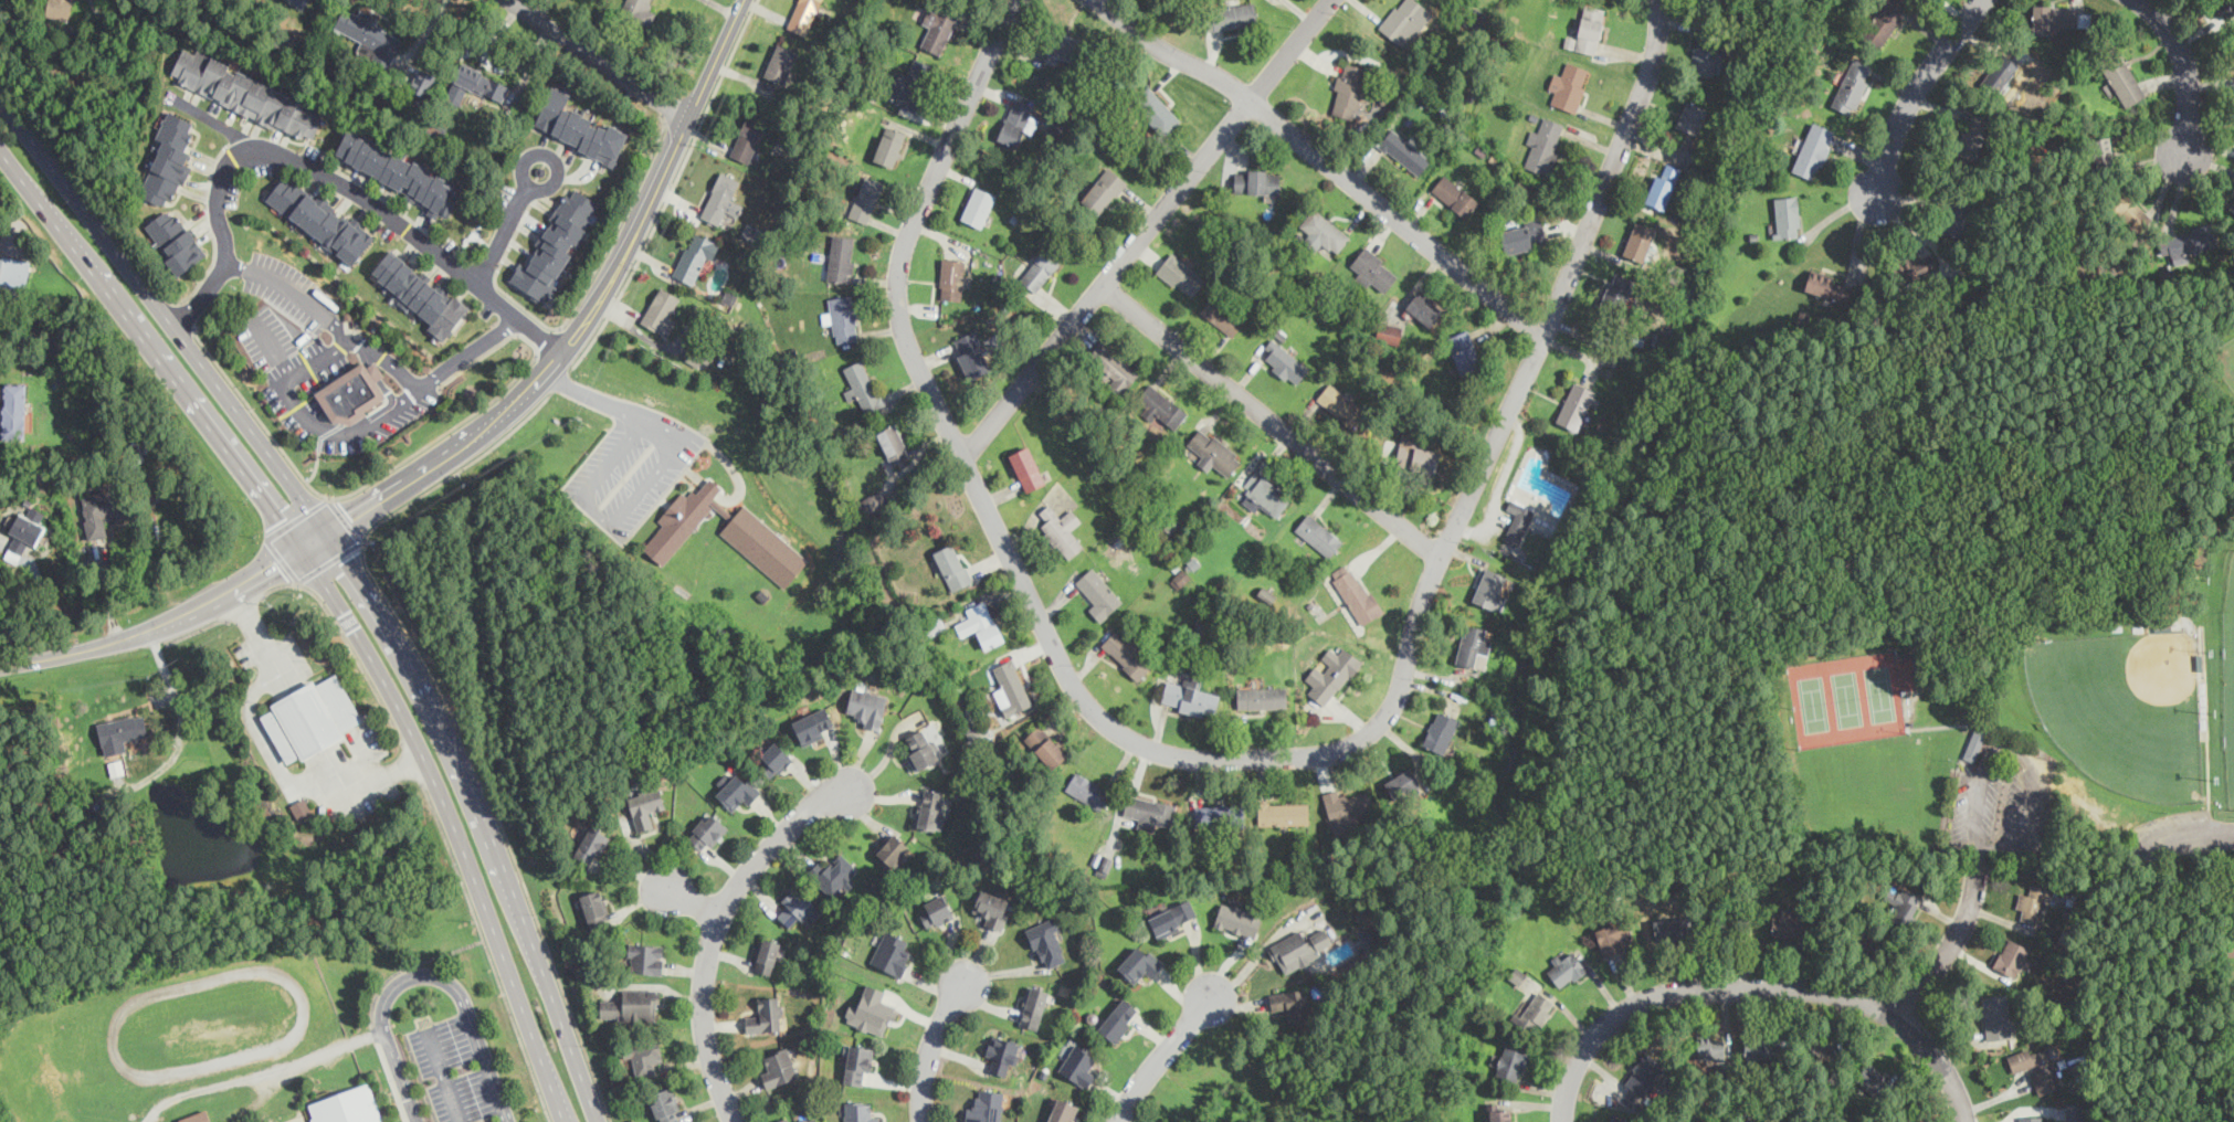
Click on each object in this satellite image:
building: (299, 2)
building: (2225, 7)
building: (60, 8)
building: (637, 12)
building: (803, 14)
building: (1230, 15)
building: (2055, 15)
building: (1476, 17)
building: (1402, 19)
building: (1883, 21)
building: (939, 25)
building: (1590, 29)
building: (368, 33)
building: (1061, 45)
road: (601, 57)
building: (1703, 59)
building: (781, 63)
road: (2184, 66)
building: (2002, 70)
building: (2120, 75)
building: (422, 81)
building: (913, 83)
building: (476, 84)
building: (1569, 85)
building: (1852, 85)
road: (1916, 89)
building: (1348, 91)
building: (247, 94)
building: (1156, 109)
building: (1692, 116)
building: (1018, 121)
building: (578, 127)
building: (1973, 136)
building: (749, 138)
building: (889, 145)
building: (1545, 145)
building: (1813, 149)
building: (1404, 151)
building: (2101, 151)
road: (1326, 160)
building: (168, 161)
building: (398, 171)
road: (327, 173)
building: (1256, 180)
building: (1663, 184)
road: (670, 190)
building: (1104, 190)
building: (1454, 194)
building: (866, 198)
building: (721, 199)
building: (978, 205)
building: (2127, 210)
park: (485, 213)
building: (1787, 215)
building: (1954, 216)
building: (319, 218)
road: (620, 221)
road: (913, 223)
road: (507, 226)
road: (1147, 229)
building: (1324, 232)
building: (0, 234)
building: (1524, 235)
building: (1640, 240)
building: (176, 242)
building: (2188, 243)
building: (555, 246)
building: (841, 257)
building: (694, 258)
road: (141, 262)
building: (1911, 265)
building: (1041, 268)
building: (1373, 269)
building: (13, 273)
building: (1180, 274)
road: (495, 277)
building: (952, 277)
building: (1829, 285)
building: (1617, 289)
building: (418, 292)
building: (1424, 307)
building: (661, 310)
road: (183, 314)
building: (1221, 315)
building: (842, 317)
road: (1966, 327)
building: (1389, 332)
road: (550, 340)
road: (273, 346)
road: (372, 350)
building: (703, 352)
building: (972, 352)
building: (1465, 352)
park: (2225, 358)
building: (1283, 361)
building: (1111, 366)
road: (560, 381)
building: (862, 384)
building: (352, 392)
road: (592, 395)
building: (1341, 404)
building: (1574, 405)
building: (1161, 406)
building: (13, 411)
road: (313, 419)
road: (1272, 421)
road: (468, 440)
building: (893, 443)
building: (1213, 451)
building: (1416, 454)
road: (316, 466)
building: (1029, 467)
road: (1592, 478)
road: (1831, 484)
road: (2124, 484)
road: (348, 493)
building: (1265, 493)
building: (874, 500)
building: (99, 509)
road: (615, 514)
road: (1722, 515)
road: (296, 517)
traffic signals: (282, 518)
traffic signals: (352, 518)
road: (346, 519)
building: (681, 520)
building: (1517, 521)
building: (1062, 530)
building: (24, 531)
building: (1318, 533)
road: (1804, 533)
building: (763, 546)
road: (282, 559)
traffic signals: (349, 559)
road: (330, 561)
traffic signals: (276, 565)
building: (952, 565)
road: (358, 575)
building: (1180, 578)
building: (1490, 589)
road: (108, 591)
building: (1356, 593)
building: (1098, 594)
road: (339, 602)
building: (981, 624)
road: (1412, 637)
park: (1926, 637)
road: (345, 639)
building: (1473, 644)
road: (1930, 648)
building: (1127, 653)
building: (1332, 677)
building: (1011, 688)
building: (1190, 694)
park: (1850, 695)
building: (1258, 697)
building: (867, 706)
park: (2124, 707)
road: (452, 712)
building: (310, 717)
road: (1960, 723)
building: (813, 724)
building: (1441, 730)
building: (120, 732)
building: (1975, 742)
building: (924, 745)
building: (1045, 747)
road: (268, 749)
building: (773, 759)
road: (2209, 773)
building: (1402, 783)
building: (738, 790)
building: (1087, 790)
road: (1626, 800)
parking lot: (2003, 801)
building: (1349, 806)
building: (301, 807)
building: (645, 807)
building: (931, 808)
building: (1149, 811)
building: (1283, 812)
building: (1218, 817)
road: (2232, 828)
building: (706, 830)
parking lot: (2182, 837)
building: (590, 844)
building: (893, 849)
road: (1979, 864)
building: (1105, 865)
building: (834, 875)
road: (688, 899)
building: (1901, 903)
building: (2033, 903)
building: (793, 906)
building: (596, 908)
building: (991, 908)
building: (936, 911)
building: (1173, 917)
building: (1239, 918)
building: (1788, 924)
road: (717, 925)
building: (1669, 930)
building: (1613, 934)
building: (1047, 942)
building: (1866, 942)
building: (1299, 948)
road: (487, 951)
road: (1950, 951)
building: (891, 953)
building: (766, 954)
building: (2011, 956)
building: (645, 957)
building: (1139, 964)
road: (411, 965)
building: (1566, 967)
building: (1517, 975)
road: (1759, 994)
road: (463, 1001)
building: (1290, 1004)
building: (631, 1005)
building: (1033, 1006)
building: (872, 1012)
building: (1535, 1012)
building: (766, 1015)
building: (1995, 1017)
building: (1118, 1020)
track: (208, 1023)
road: (934, 1042)
building: (1710, 1047)
building: (1759, 1047)
building: (1002, 1050)
building: (1821, 1050)
road: (1160, 1054)
building: (644, 1057)
building: (1511, 1059)
building: (856, 1063)
building: (1078, 1065)
building: (778, 1067)
building: (2040, 1068)
building: (1643, 1071)
road: (261, 1072)
road: (401, 1077)
building: (1872, 1078)
building: (347, 1104)
building: (665, 1104)
building: (984, 1107)
building: (1062, 1111)
building: (860, 1112)
building: (2074, 1112)
building: (1500, 1113)
building: (197, 1116)
building: (1903, 1118)
building: (2031, 1119)
building: (783, 1120)
building: (811, 1120)

